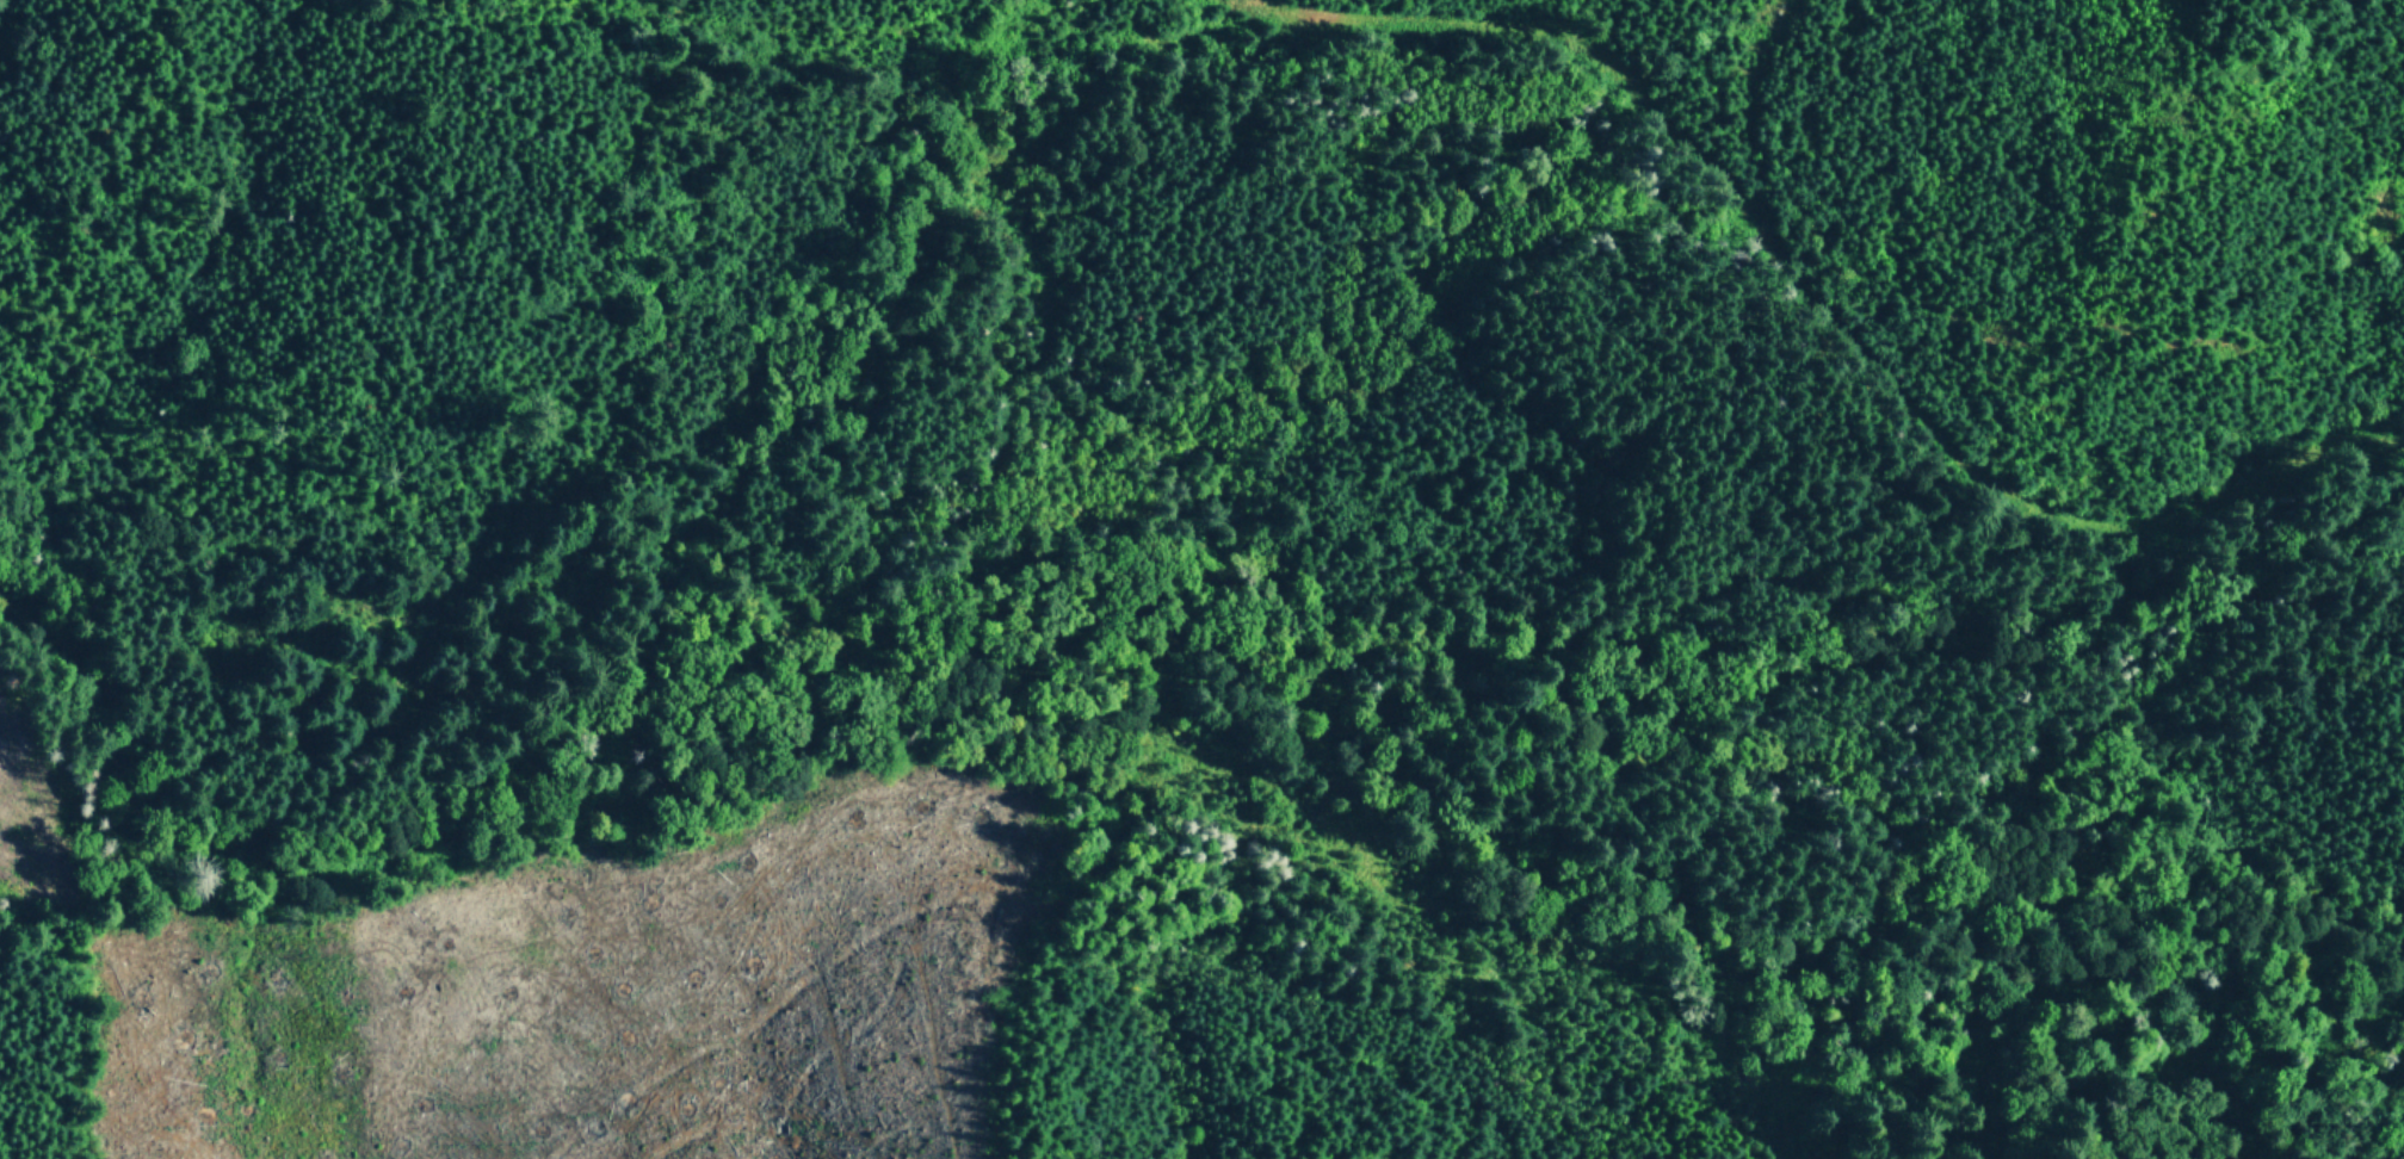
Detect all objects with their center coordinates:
road: (1840, 337)

